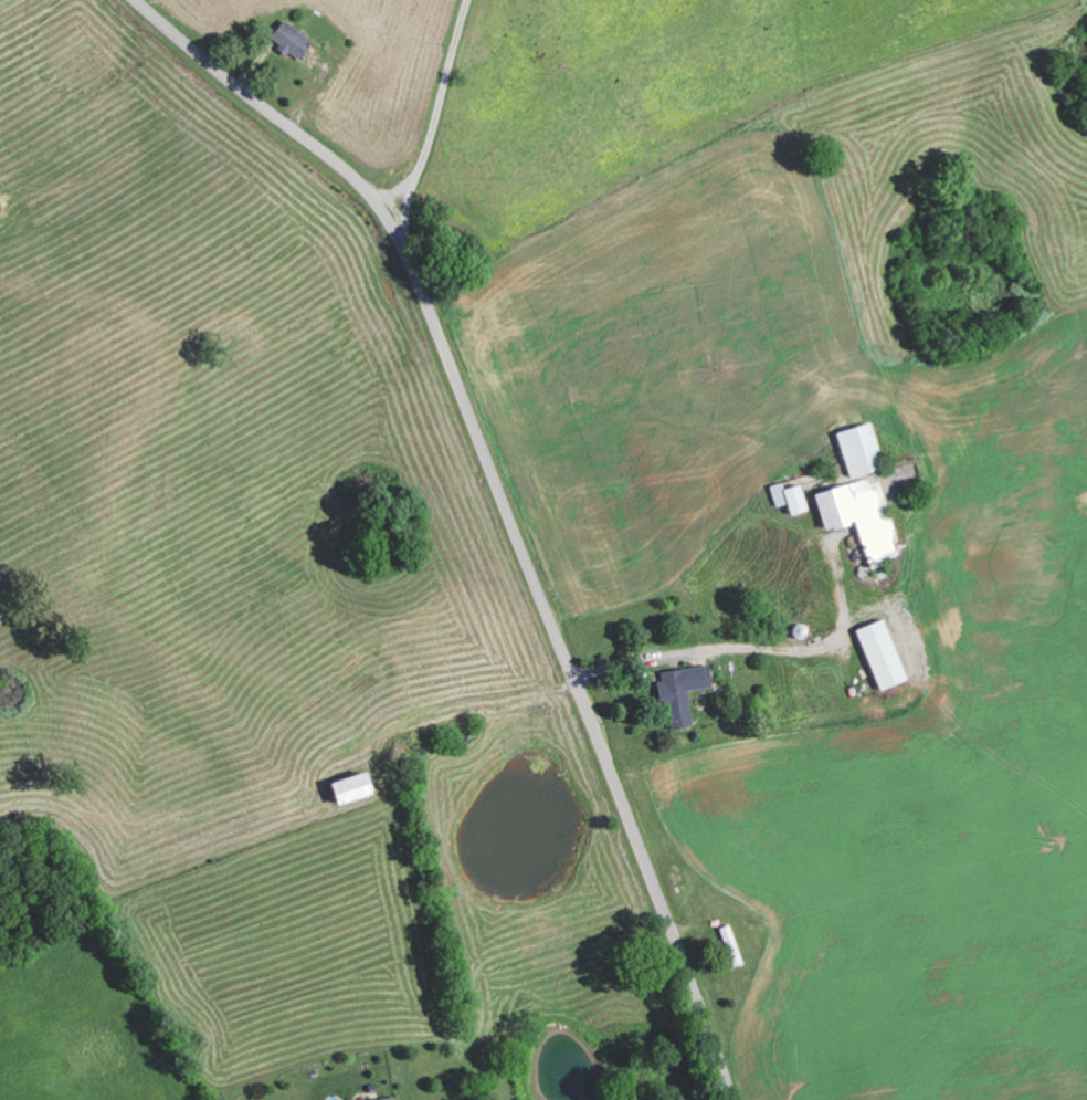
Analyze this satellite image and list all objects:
building: (286, 39)
road: (442, 115)
building: (854, 448)
building: (782, 496)
road: (502, 500)
building: (855, 515)
building: (875, 652)
building: (676, 692)
building: (340, 786)
building: (727, 944)
building: (381, 1098)

